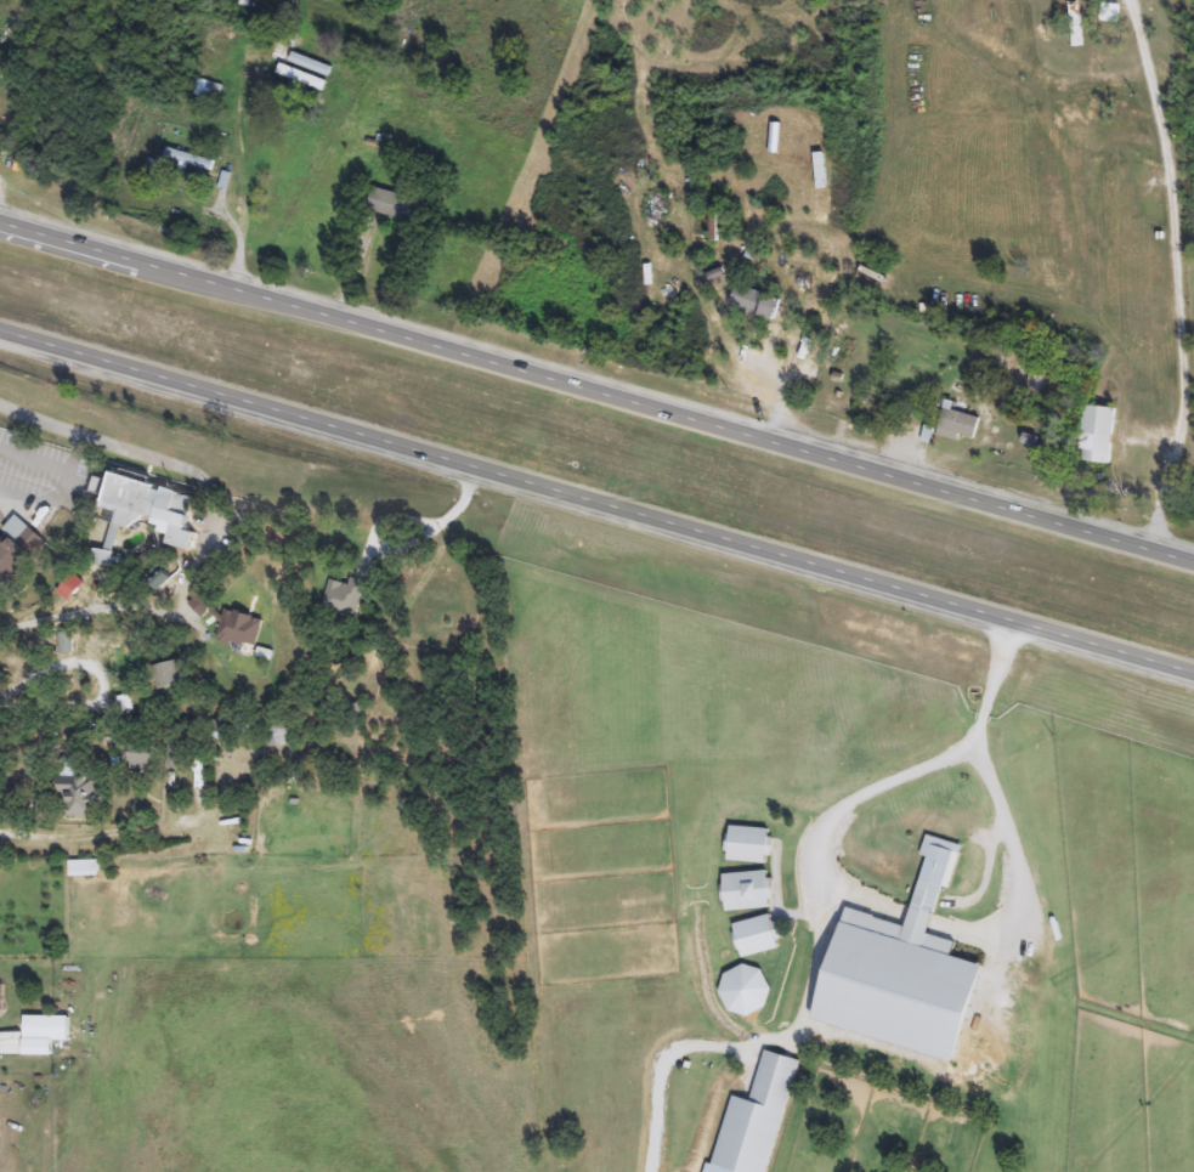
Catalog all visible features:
building: (1111, 13)
building: (1076, 24)
building: (311, 64)
building: (302, 78)
building: (209, 90)
building: (0, 136)
building: (189, 160)
road: (241, 166)
building: (397, 205)
building: (714, 225)
road: (1179, 274)
building: (757, 302)
building: (1035, 384)
road: (771, 387)
road: (596, 394)
building: (957, 425)
building: (1098, 435)
road: (100, 440)
road: (66, 480)
building: (148, 506)
road: (595, 506)
road: (403, 520)
building: (18, 554)
building: (344, 598)
building: (172, 675)
building: (226, 730)
building: (282, 735)
building: (177, 754)
building: (143, 758)
building: (83, 798)
road: (1003, 809)
road: (833, 811)
road: (86, 834)
road: (923, 919)
building: (906, 974)
building: (0, 998)
building: (47, 1029)

